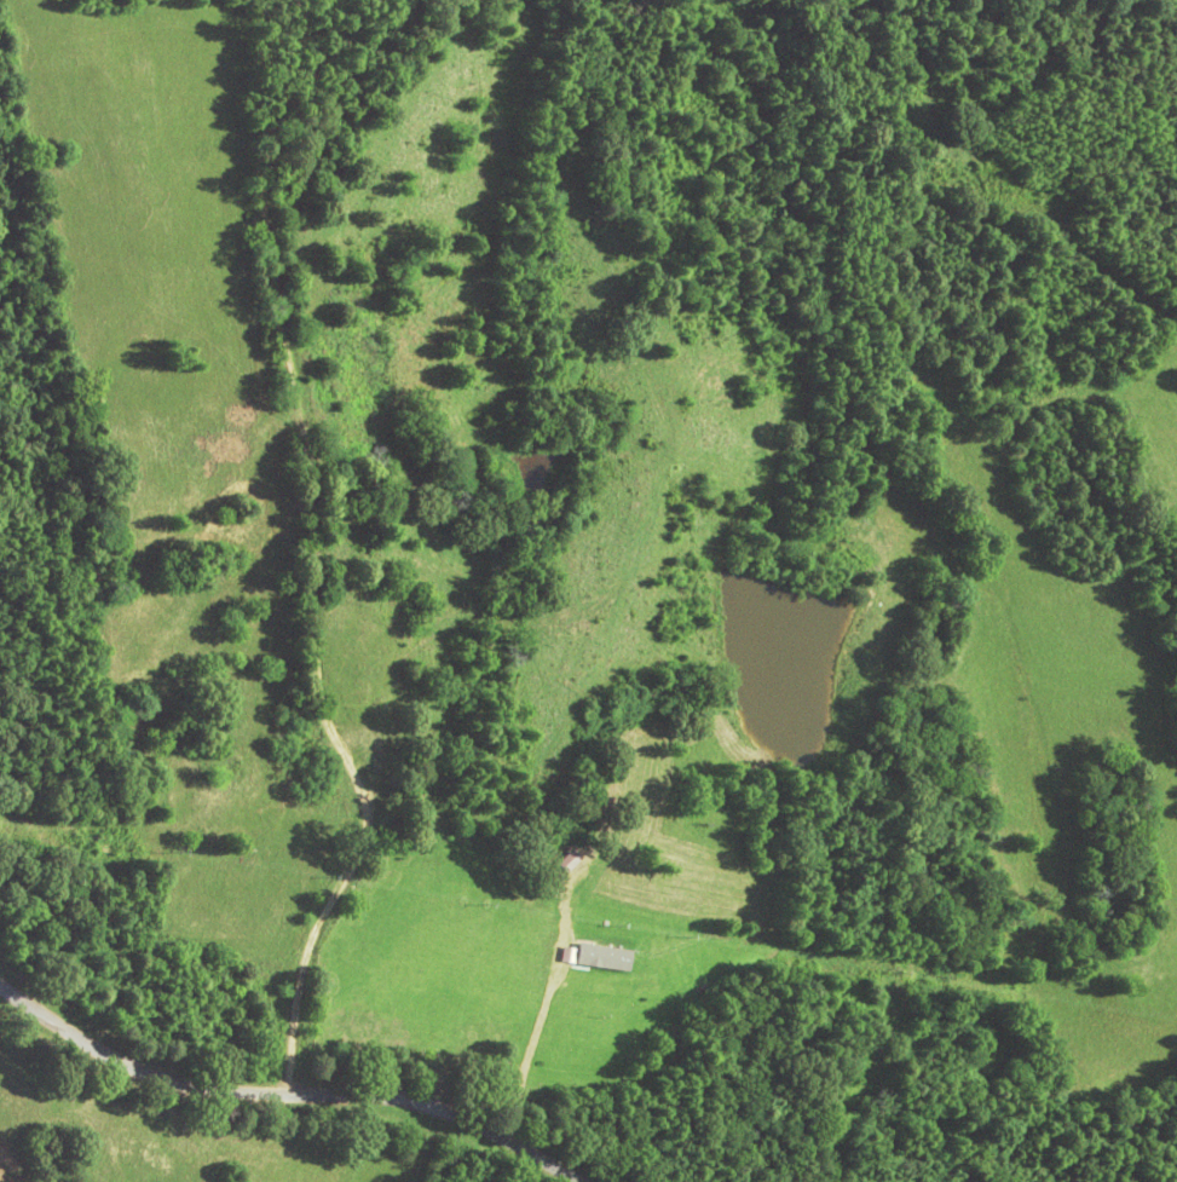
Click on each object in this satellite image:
road: (489, 967)
road: (333, 1057)
road: (795, 1083)

